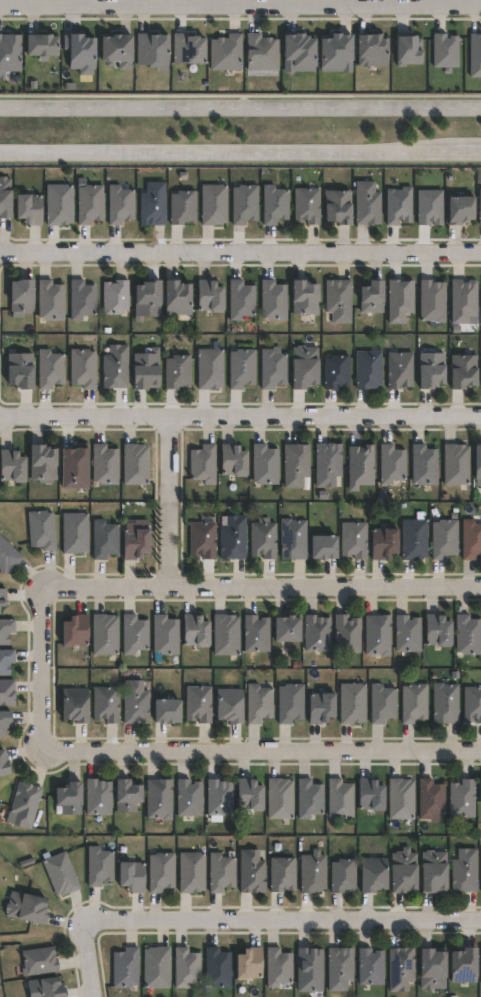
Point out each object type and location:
road: (240, 5)
building: (41, 45)
building: (152, 49)
building: (188, 49)
building: (116, 50)
building: (372, 50)
building: (262, 52)
building: (298, 52)
building: (80, 53)
building: (226, 53)
building: (337, 53)
building: (10, 54)
road: (240, 94)
road: (240, 103)
road: (240, 152)
road: (240, 165)
building: (4, 197)
building: (367, 203)
building: (89, 204)
building: (119, 204)
building: (153, 204)
building: (213, 204)
building: (244, 204)
building: (59, 205)
building: (275, 205)
building: (307, 205)
building: (183, 207)
building: (338, 207)
building: (480, 208)
building: (28, 209)
building: (459, 209)
road: (240, 252)
building: (21, 296)
building: (209, 296)
building: (115, 297)
building: (372, 297)
building: (305, 298)
building: (147, 299)
building: (176, 299)
building: (82, 300)
building: (240, 300)
building: (338, 300)
building: (50, 301)
building: (273, 301)
building: (400, 301)
building: (433, 301)
building: (464, 301)
building: (111, 365)
building: (304, 366)
building: (143, 368)
building: (50, 369)
building: (83, 369)
building: (209, 369)
building: (241, 369)
building: (273, 369)
building: (174, 370)
building: (368, 370)
building: (400, 370)
building: (431, 370)
building: (19, 371)
building: (337, 371)
building: (463, 371)
road: (240, 417)
building: (232, 462)
building: (42, 463)
building: (478, 463)
building: (105, 465)
building: (135, 465)
building: (202, 465)
building: (264, 465)
building: (328, 465)
building: (391, 465)
building: (456, 465)
building: (296, 466)
building: (424, 466)
building: (11, 467)
building: (72, 467)
building: (361, 467)
road: (168, 503)
building: (42, 531)
building: (74, 534)
building: (104, 539)
building: (233, 539)
building: (444, 539)
building: (263, 540)
building: (293, 540)
building: (414, 540)
building: (471, 540)
building: (202, 541)
building: (354, 541)
building: (134, 544)
building: (383, 544)
building: (323, 548)
building: (8, 556)
road: (261, 589)
building: (2, 596)
building: (287, 627)
building: (74, 629)
building: (194, 629)
building: (438, 629)
building: (5, 630)
building: (317, 632)
building: (134, 633)
building: (256, 633)
building: (347, 633)
building: (104, 634)
building: (226, 634)
building: (377, 634)
building: (408, 634)
building: (468, 634)
building: (165, 635)
building: (6, 660)
road: (39, 666)
building: (7, 692)
building: (135, 702)
building: (290, 702)
building: (414, 702)
building: (258, 703)
building: (352, 703)
building: (382, 703)
building: (445, 703)
building: (105, 704)
building: (198, 704)
building: (229, 704)
building: (472, 704)
building: (320, 707)
building: (74, 708)
building: (166, 710)
building: (3, 720)
road: (258, 753)
building: (3, 762)
building: (480, 792)
building: (248, 794)
building: (370, 794)
building: (127, 795)
building: (69, 797)
building: (98, 797)
building: (189, 797)
building: (159, 798)
building: (280, 798)
building: (309, 798)
building: (401, 798)
building: (430, 798)
building: (462, 798)
building: (219, 799)
building: (340, 799)
building: (24, 805)
building: (99, 866)
building: (404, 870)
building: (161, 871)
building: (191, 871)
building: (434, 871)
building: (465, 871)
building: (221, 872)
building: (253, 872)
building: (314, 872)
building: (60, 874)
building: (283, 874)
building: (373, 874)
building: (343, 875)
building: (131, 876)
building: (25, 907)
road: (282, 920)
building: (36, 961)
road: (87, 961)
building: (248, 963)
building: (463, 965)
building: (370, 966)
building: (185, 967)
building: (278, 967)
building: (125, 968)
building: (156, 968)
building: (217, 968)
building: (339, 968)
building: (400, 968)
building: (309, 969)
building: (432, 969)
building: (45, 987)

